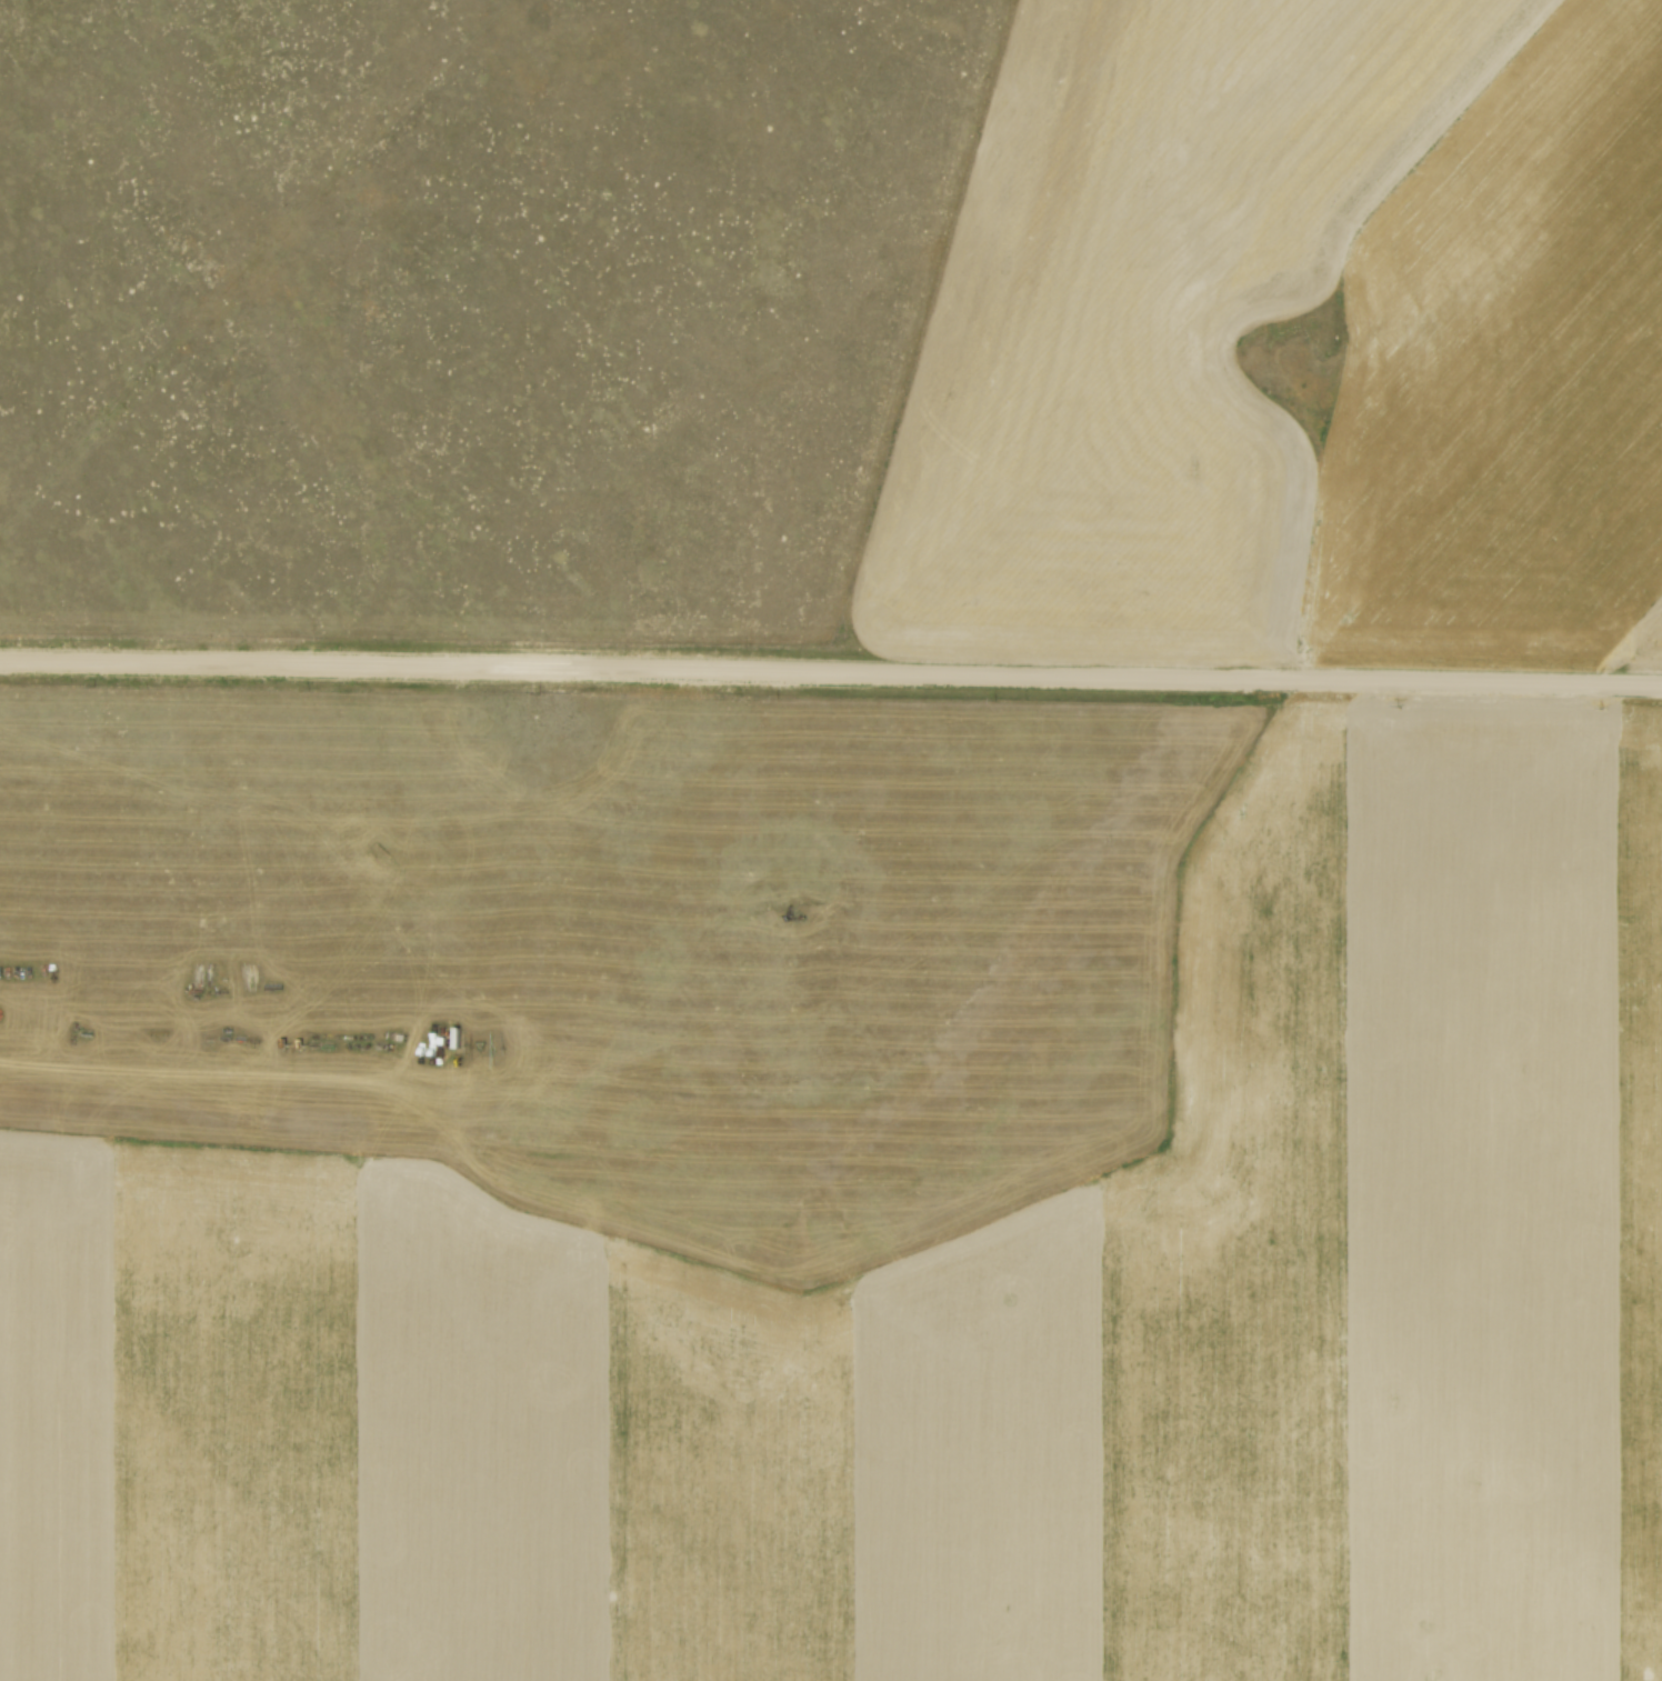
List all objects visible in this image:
crop: (1508, 329)
road: (831, 672)
crop: (949, 1330)

